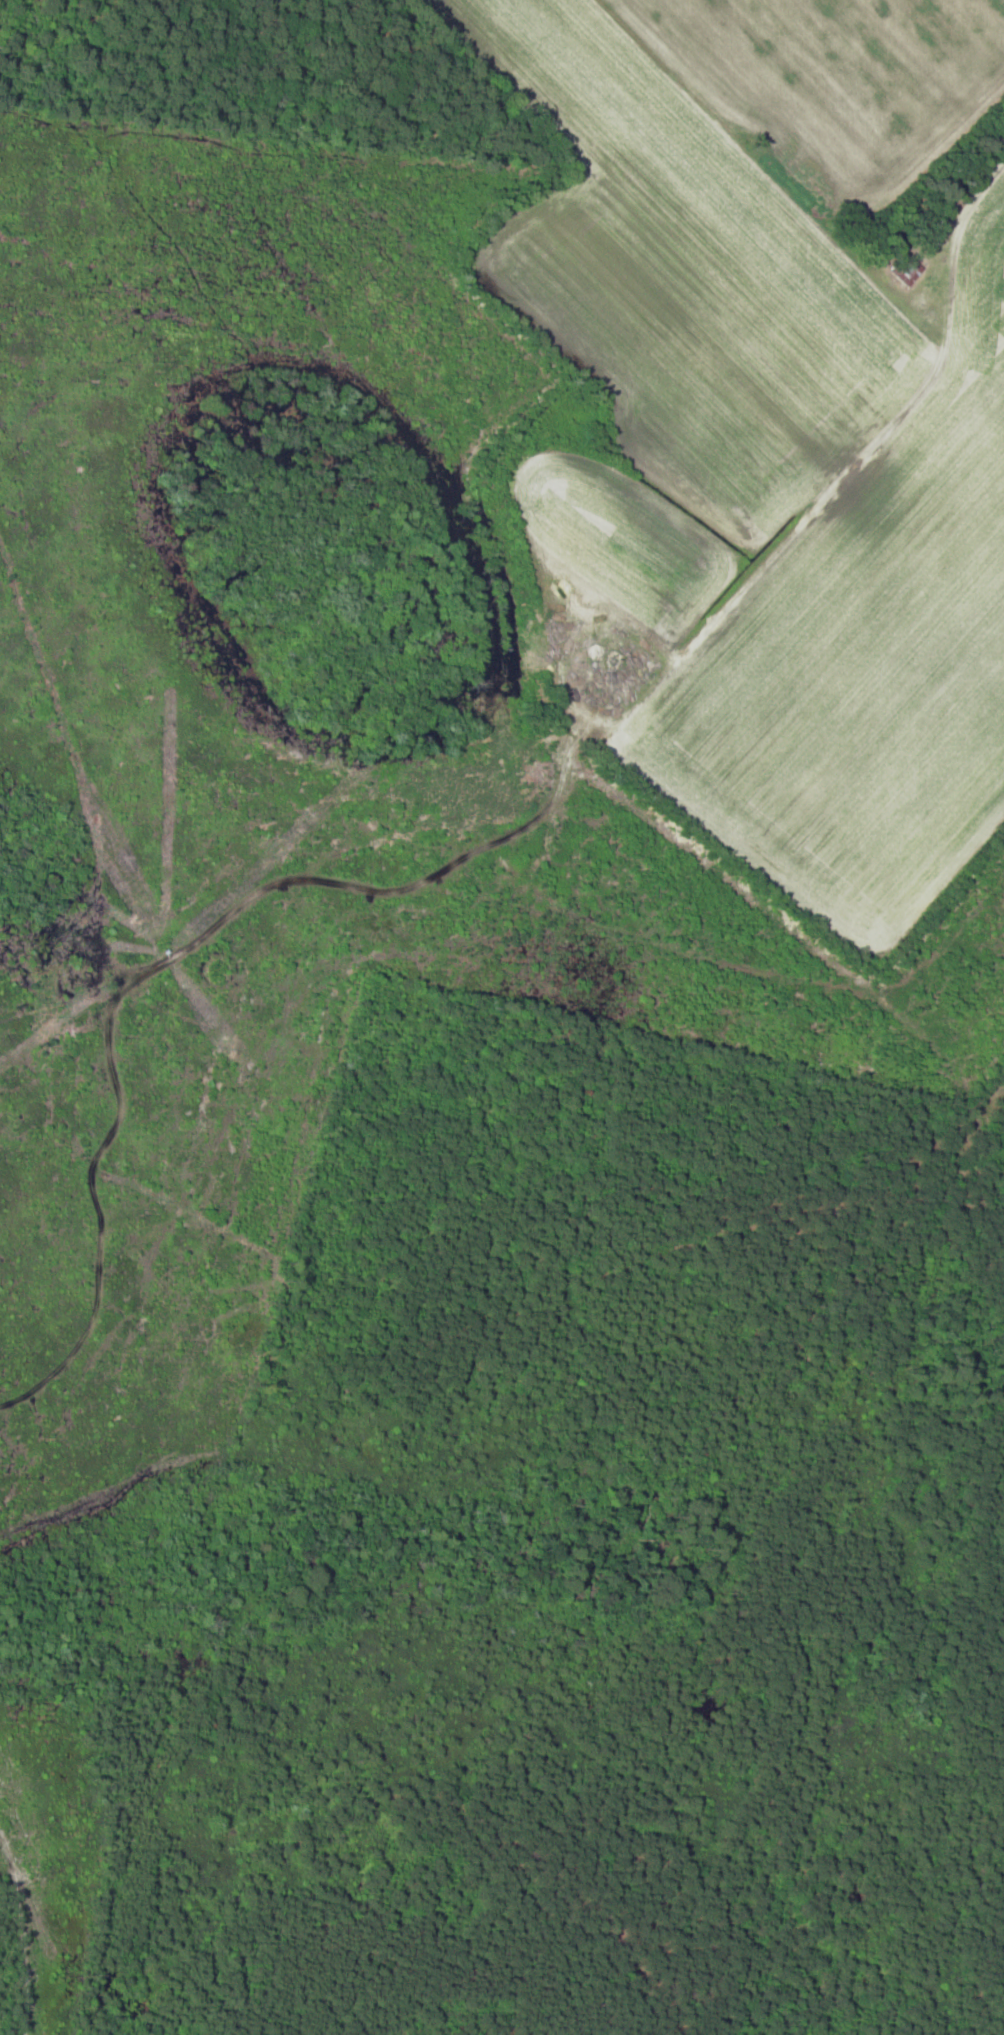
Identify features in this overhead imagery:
building: (906, 271)

